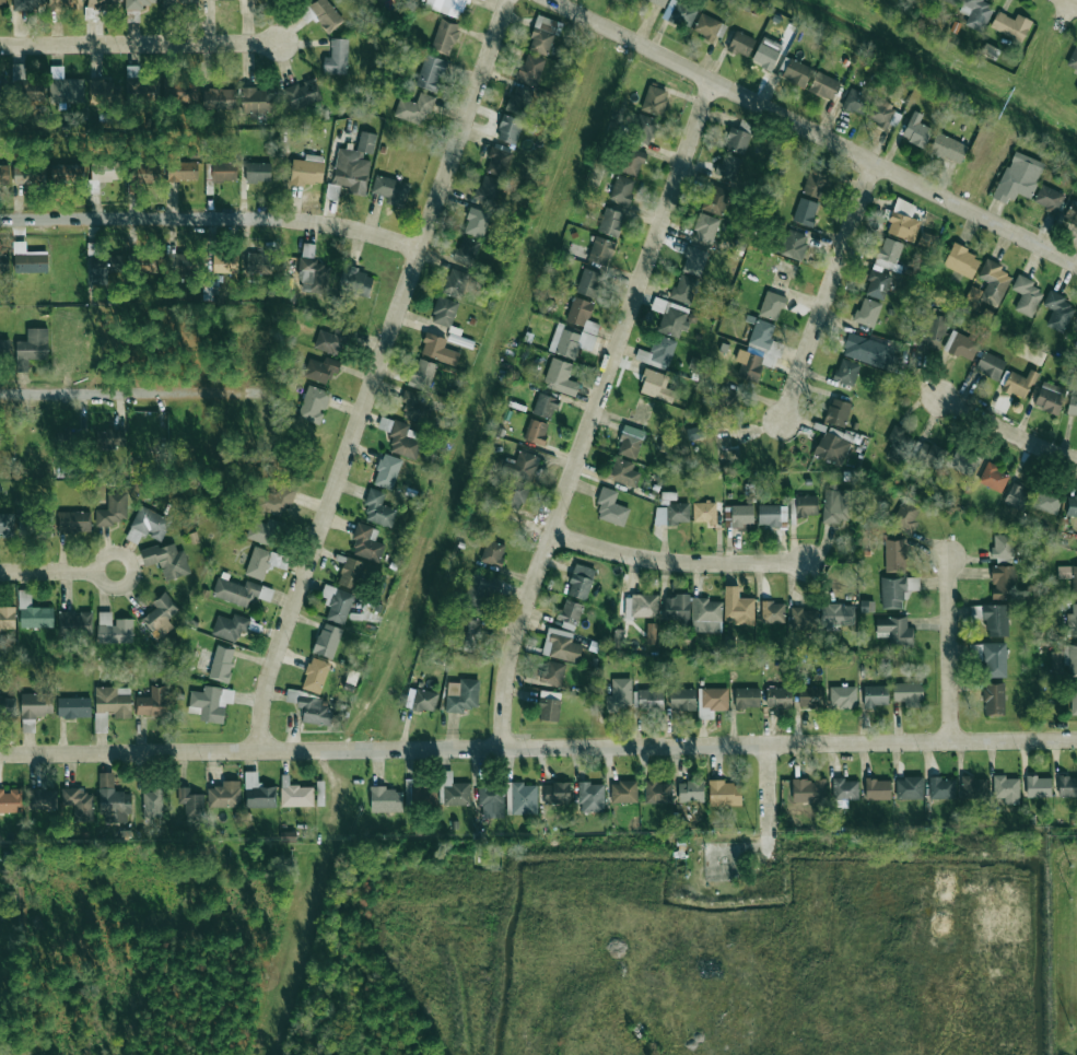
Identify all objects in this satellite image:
building: (951, 1)
road: (1075, 1)
building: (176, 2)
building: (658, 2)
building: (2, 3)
building: (65, 3)
building: (137, 3)
building: (27, 4)
building: (447, 7)
building: (92, 8)
building: (679, 12)
building: (975, 13)
building: (325, 14)
building: (1010, 25)
building: (706, 26)
building: (542, 35)
building: (444, 36)
road: (141, 42)
building: (740, 43)
building: (766, 52)
building: (336, 57)
building: (1073, 58)
building: (530, 69)
building: (431, 72)
building: (795, 72)
building: (25, 85)
building: (63, 85)
building: (139, 85)
building: (823, 85)
building: (180, 89)
building: (99, 91)
building: (302, 94)
building: (218, 98)
building: (654, 99)
building: (256, 101)
building: (519, 101)
building: (856, 102)
building: (414, 108)
building: (880, 112)
building: (644, 128)
building: (508, 129)
building: (915, 130)
road: (811, 132)
building: (736, 139)
building: (947, 148)
building: (497, 162)
building: (631, 162)
building: (354, 164)
building: (727, 165)
building: (105, 168)
building: (307, 169)
building: (182, 171)
building: (223, 171)
building: (257, 172)
building: (67, 173)
building: (4, 174)
building: (144, 174)
building: (1018, 177)
building: (815, 184)
building: (390, 189)
building: (488, 189)
building: (621, 189)
building: (332, 191)
building: (1047, 198)
building: (714, 199)
building: (805, 211)
building: (1072, 212)
road: (212, 218)
building: (902, 221)
building: (476, 222)
building: (610, 222)
building: (705, 227)
building: (794, 244)
building: (466, 250)
building: (600, 250)
building: (888, 254)
building: (27, 259)
building: (693, 260)
building: (961, 261)
building: (3, 262)
building: (224, 262)
building: (258, 262)
building: (172, 265)
building: (103, 267)
building: (355, 282)
building: (454, 282)
building: (588, 282)
building: (993, 282)
building: (877, 284)
road: (830, 288)
building: (683, 289)
building: (1026, 295)
building: (772, 305)
building: (1057, 310)
building: (444, 312)
building: (867, 312)
building: (670, 316)
building: (1076, 318)
building: (934, 328)
building: (574, 330)
building: (760, 335)
building: (329, 340)
building: (1076, 342)
building: (961, 345)
building: (4, 348)
building: (32, 348)
building: (437, 349)
building: (865, 350)
building: (657, 352)
building: (772, 355)
building: (749, 365)
building: (990, 365)
building: (320, 368)
building: (846, 372)
road: (378, 374)
building: (422, 374)
building: (560, 377)
building: (1017, 383)
building: (655, 385)
road: (118, 390)
building: (1050, 397)
building: (313, 405)
building: (413, 405)
building: (545, 405)
building: (1072, 405)
building: (836, 411)
road: (594, 412)
building: (1076, 418)
road: (1008, 427)
building: (536, 431)
building: (694, 432)
building: (400, 436)
building: (110, 437)
building: (630, 441)
building: (832, 445)
building: (914, 450)
building: (963, 461)
building: (387, 471)
building: (623, 471)
building: (993, 477)
building: (516, 479)
building: (1017, 496)
building: (276, 500)
building: (1046, 502)
building: (806, 505)
building: (1072, 505)
building: (378, 508)
building: (610, 508)
building: (113, 509)
building: (702, 512)
building: (671, 514)
building: (771, 514)
building: (906, 514)
building: (740, 516)
building: (77, 520)
building: (147, 524)
building: (7, 525)
building: (36, 525)
building: (264, 530)
building: (366, 541)
building: (1002, 547)
building: (492, 552)
building: (894, 555)
building: (166, 560)
building: (258, 562)
road: (676, 563)
building: (351, 573)
road: (59, 574)
building: (1068, 576)
building: (581, 582)
building: (1002, 582)
building: (895, 590)
building: (479, 591)
building: (337, 603)
building: (641, 606)
building: (737, 606)
building: (865, 606)
building: (677, 608)
building: (570, 611)
building: (772, 611)
building: (32, 612)
building: (705, 614)
building: (160, 616)
building: (836, 616)
building: (7, 617)
building: (803, 619)
building: (1072, 619)
building: (995, 620)
building: (74, 622)
building: (229, 626)
building: (114, 629)
building: (894, 631)
building: (467, 633)
building: (651, 633)
building: (327, 640)
building: (560, 644)
road: (947, 649)
building: (990, 657)
building: (1069, 658)
building: (1055, 660)
building: (221, 663)
building: (552, 672)
building: (315, 675)
building: (908, 693)
building: (618, 694)
building: (875, 695)
building: (463, 696)
building: (747, 696)
building: (777, 696)
building: (809, 696)
building: (842, 696)
building: (1073, 696)
building: (647, 698)
building: (681, 699)
building: (993, 699)
building: (423, 700)
building: (113, 701)
building: (711, 701)
building: (153, 702)
building: (209, 702)
building: (35, 704)
building: (549, 705)
building: (7, 706)
building: (73, 706)
building: (315, 710)
road: (538, 747)
building: (973, 786)
building: (1038, 786)
building: (1067, 786)
road: (769, 787)
building: (909, 787)
building: (941, 787)
building: (844, 788)
building: (878, 788)
building: (1006, 788)
building: (808, 789)
building: (453, 790)
building: (690, 790)
building: (258, 792)
building: (623, 792)
building: (656, 792)
building: (557, 793)
building: (724, 793)
building: (224, 794)
building: (294, 794)
building: (590, 797)
building: (42, 798)
building: (520, 798)
building: (385, 799)
building: (491, 799)
building: (10, 800)
building: (113, 800)
building: (190, 801)
building: (78, 802)
building: (152, 802)

